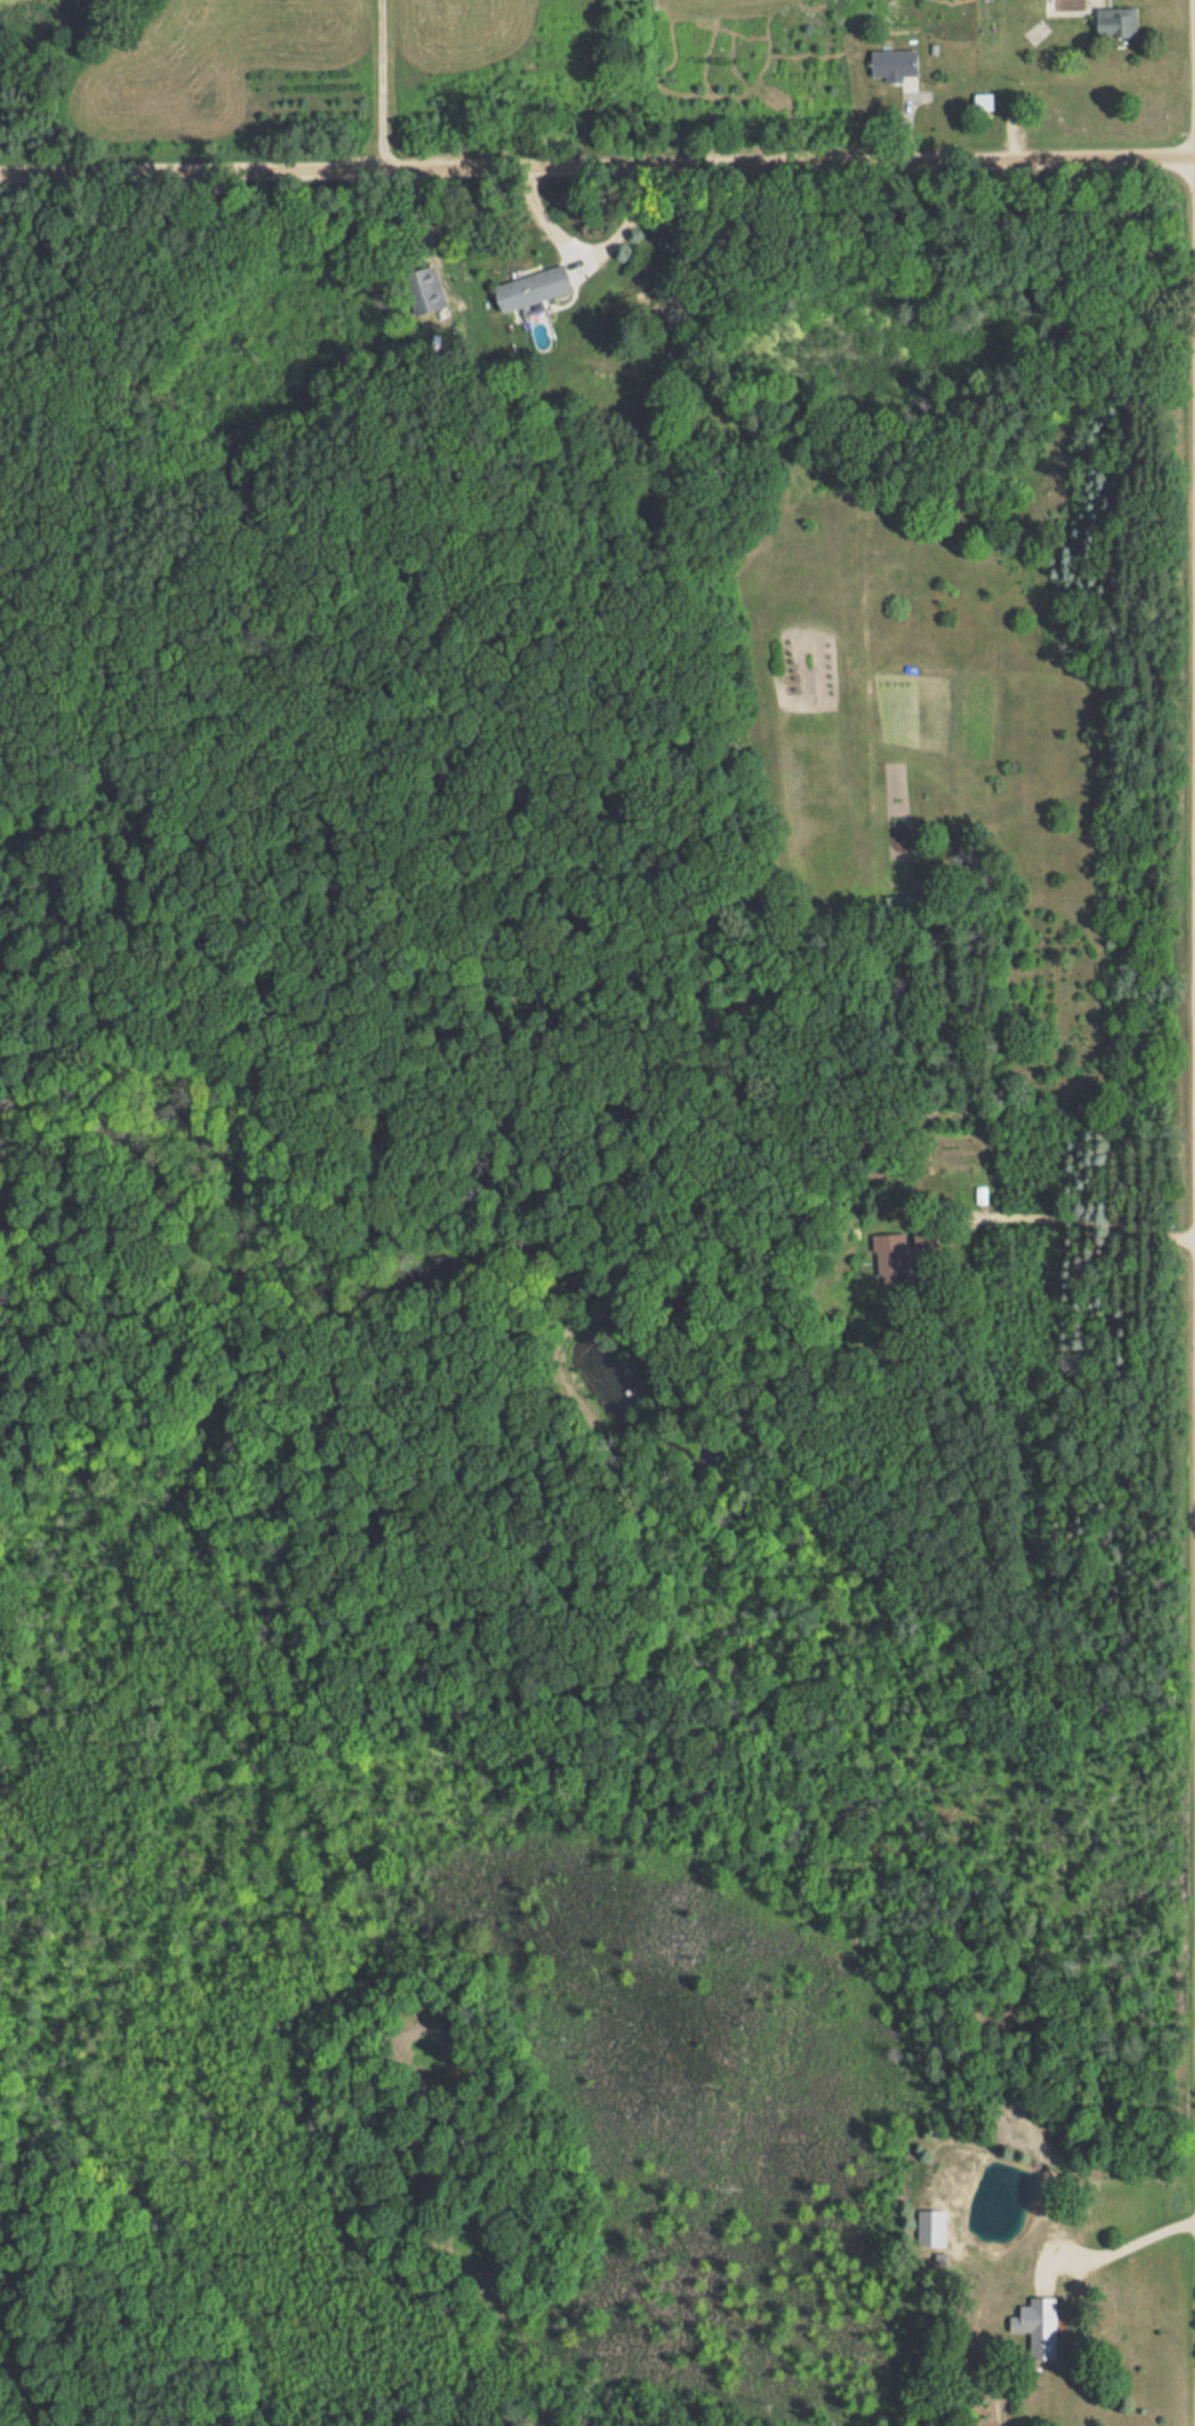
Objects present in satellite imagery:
building: (1115, 22)
building: (893, 64)
road: (383, 86)
building: (983, 102)
road: (597, 167)
building: (430, 288)
building: (532, 288)
road: (1072, 1219)
building: (890, 1254)
building: (930, 2228)
road: (1130, 2242)
building: (1036, 2321)

